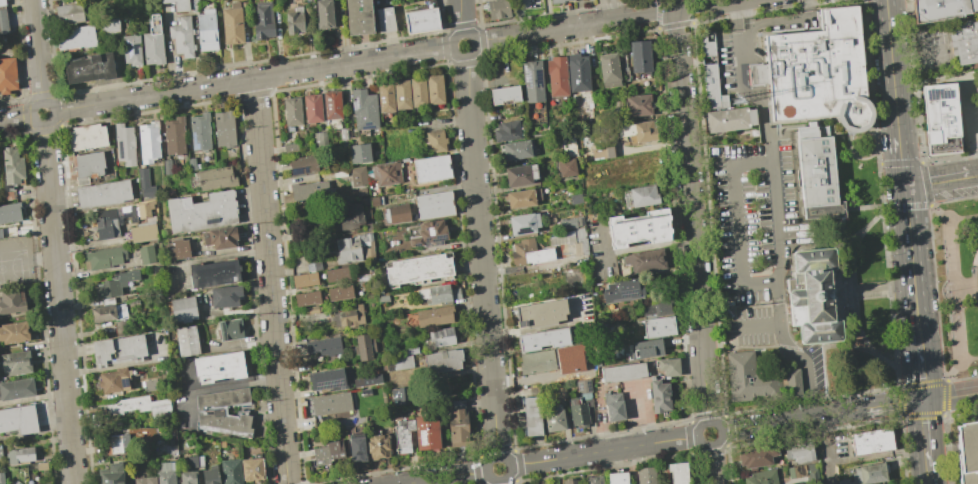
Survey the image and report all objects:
building: (556, 1)
building: (2, 2)
building: (308, 2)
building: (379, 2)
building: (338, 3)
building: (180, 4)
building: (195, 6)
building: (244, 8)
building: (498, 8)
building: (942, 9)
building: (69, 13)
building: (325, 13)
road: (460, 16)
building: (359, 17)
building: (295, 18)
building: (422, 18)
building: (386, 19)
building: (264, 20)
road: (607, 20)
building: (3, 21)
road: (781, 21)
building: (232, 23)
building: (110, 25)
road: (889, 29)
building: (207, 30)
building: (76, 36)
building: (183, 36)
building: (963, 40)
building: (154, 42)
rooftop solar panel: (134, 47)
rooftop solar panel: (130, 48)
building: (132, 49)
road: (37, 51)
road: (917, 54)
road: (461, 56)
building: (639, 56)
building: (90, 67)
building: (608, 70)
building: (815, 70)
building: (577, 73)
building: (8, 74)
building: (712, 74)
building: (556, 76)
rooftop solar panel: (529, 77)
rooftop solar panel: (537, 78)
road: (253, 79)
building: (531, 79)
rooftop solar panel: (942, 91)
rooftop solar panel: (929, 92)
building: (422, 94)
building: (439, 94)
building: (406, 95)
building: (504, 95)
road: (895, 97)
building: (390, 100)
rooftop solar panel: (940, 101)
rooftop solar panel: (354, 103)
building: (638, 105)
building: (337, 107)
building: (317, 110)
road: (54, 111)
building: (369, 111)
building: (297, 113)
road: (16, 117)
parking lot: (976, 118)
building: (941, 119)
building: (729, 121)
rooftop solar panel: (368, 127)
building: (224, 128)
road: (972, 130)
building: (506, 131)
building: (199, 132)
building: (642, 132)
building: (173, 136)
building: (343, 136)
building: (87, 137)
building: (319, 140)
building: (148, 142)
building: (441, 142)
building: (124, 144)
rooftop solar panel: (194, 144)
building: (568, 146)
building: (289, 148)
building: (516, 150)
building: (609, 151)
building: (599, 153)
building: (363, 155)
road: (900, 161)
building: (190, 163)
building: (12, 166)
building: (87, 166)
building: (307, 166)
building: (166, 167)
building: (565, 167)
rooftop solar panel: (305, 169)
rooftop solar panel: (298, 171)
building: (436, 171)
building: (519, 175)
building: (813, 175)
building: (142, 177)
building: (391, 177)
building: (215, 178)
building: (361, 178)
road: (941, 181)
traffic signals: (904, 186)
building: (103, 193)
building: (313, 193)
building: (639, 196)
building: (520, 198)
building: (575, 198)
road: (927, 201)
building: (380, 203)
road: (887, 205)
building: (438, 207)
building: (144, 209)
road: (777, 209)
building: (202, 211)
flagpole: (836, 212)
building: (9, 213)
building: (402, 216)
road: (691, 216)
parking lot: (754, 218)
building: (113, 220)
road: (736, 220)
rooftop solar panel: (212, 221)
building: (351, 221)
building: (523, 223)
building: (567, 223)
building: (638, 228)
building: (142, 232)
building: (435, 236)
building: (222, 237)
rooftop solar panel: (438, 238)
rooftop solar panel: (426, 240)
building: (568, 242)
rooftop solar panel: (418, 247)
building: (180, 248)
road: (635, 249)
building: (352, 252)
building: (950, 252)
building: (528, 253)
building: (145, 254)
road: (215, 256)
road: (27, 257)
building: (104, 257)
road: (481, 257)
building: (644, 260)
parking lot: (17, 263)
road: (912, 266)
building: (426, 270)
building: (213, 273)
road: (974, 275)
park: (864, 276)
building: (342, 277)
road: (270, 281)
building: (309, 282)
road: (954, 283)
park: (956, 283)
building: (115, 284)
road: (965, 288)
road: (885, 289)
building: (622, 290)
rooftop solar panel: (628, 292)
flagpole: (940, 292)
building: (344, 295)
building: (448, 295)
building: (224, 296)
building: (810, 298)
building: (311, 300)
building: (11, 301)
building: (107, 301)
road: (856, 302)
road: (59, 303)
building: (132, 303)
building: (655, 308)
building: (182, 309)
building: (108, 313)
building: (540, 313)
building: (439, 318)
building: (353, 319)
road: (759, 323)
building: (658, 326)
parking lot: (751, 326)
building: (956, 326)
building: (229, 328)
building: (13, 332)
building: (542, 339)
building: (186, 341)
building: (444, 341)
building: (645, 348)
building: (119, 349)
building: (329, 349)
building: (368, 350)
building: (537, 361)
building: (15, 363)
road: (120, 365)
building: (449, 365)
building: (219, 367)
building: (668, 367)
building: (622, 372)
road: (922, 373)
flagpole: (879, 376)
building: (366, 380)
road: (944, 380)
building: (113, 381)
building: (327, 381)
building: (757, 381)
rooftop solar panel: (370, 382)
rooftop solar panel: (330, 383)
road: (881, 383)
rooftop solar panel: (358, 384)
building: (148, 385)
building: (582, 385)
road: (217, 386)
rooftop solar panel: (579, 386)
rooftop solar panel: (588, 386)
building: (16, 389)
building: (395, 395)
building: (658, 396)
road: (951, 396)
building: (222, 398)
traffic signals: (924, 401)
building: (335, 406)
building: (613, 407)
building: (138, 408)
road: (643, 412)
building: (362, 413)
building: (577, 413)
building: (531, 416)
road: (822, 416)
building: (18, 419)
building: (553, 419)
building: (224, 423)
building: (465, 429)
road: (925, 434)
building: (433, 437)
rooftop solar panel: (424, 438)
building: (408, 439)
building: (871, 441)
building: (118, 443)
road: (711, 445)
building: (164, 447)
building: (356, 448)
building: (384, 450)
road: (603, 451)
building: (364, 452)
building: (799, 452)
road: (888, 453)
building: (968, 453)
building: (20, 454)
building: (0, 455)
building: (755, 456)
building: (334, 457)
building: (191, 461)
road: (711, 464)
road: (632, 465)
building: (41, 466)
building: (251, 469)
building: (795, 470)
building: (230, 471)
building: (677, 472)
building: (811, 472)
building: (165, 473)
building: (111, 474)
building: (865, 474)
building: (210, 475)
building: (645, 475)
road: (929, 475)
building: (187, 477)
road: (446, 477)
building: (761, 477)
building: (1, 478)
road: (496, 478)
building: (617, 478)
building: (144, 480)
building: (593, 480)
road: (500, 481)
building: (570, 481)
building: (45, 483)

